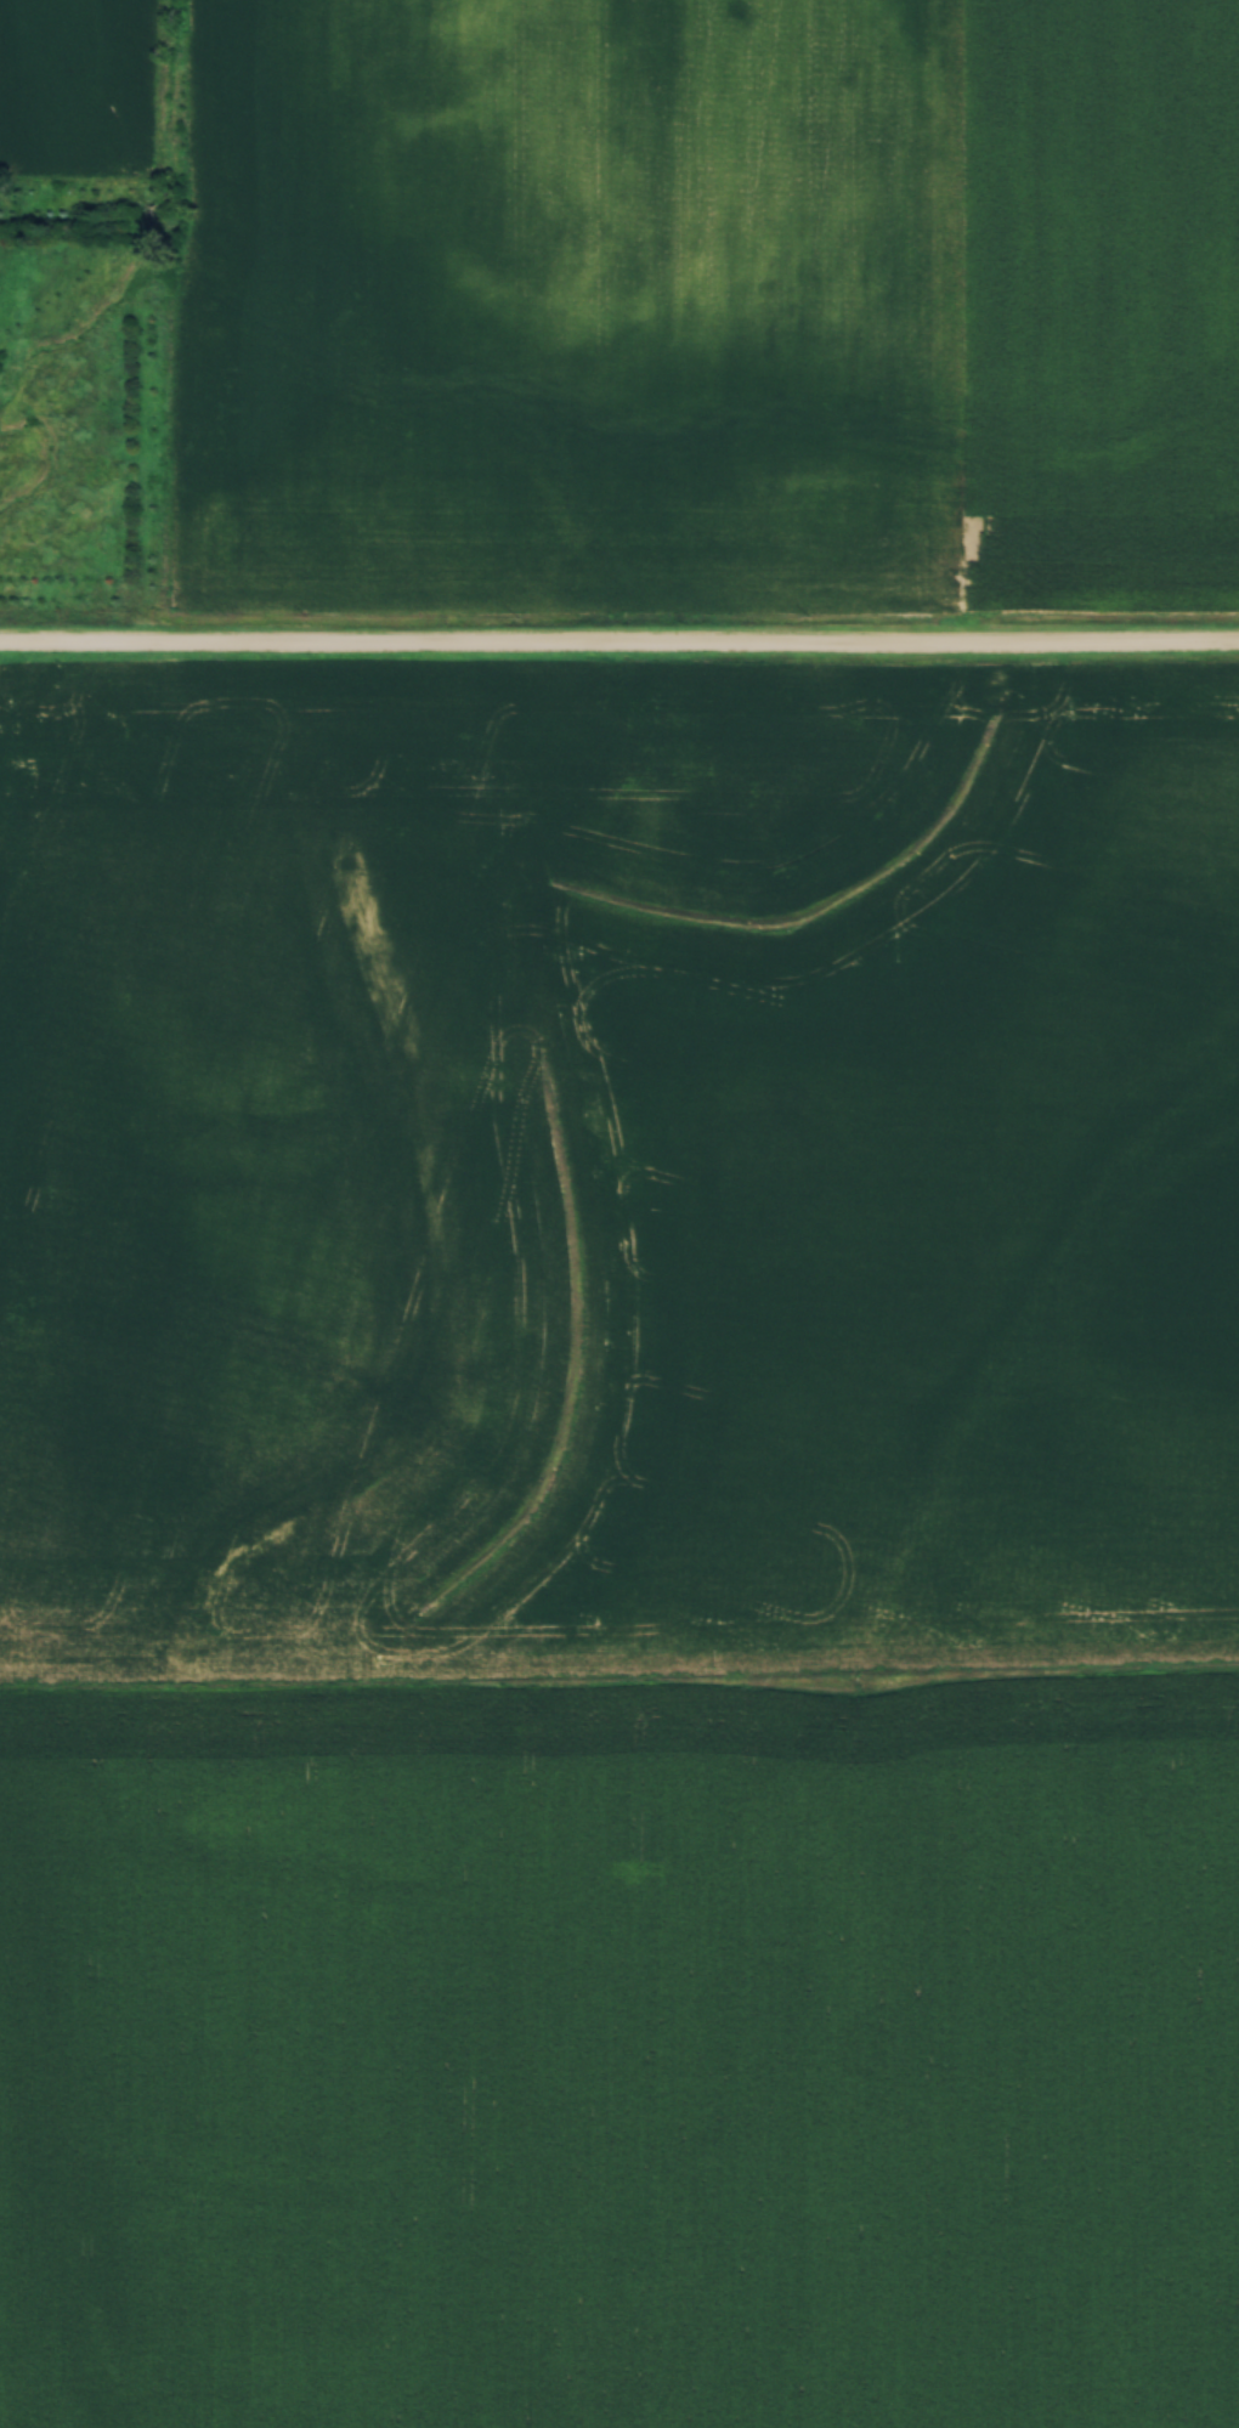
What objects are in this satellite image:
road: (618, 641)

